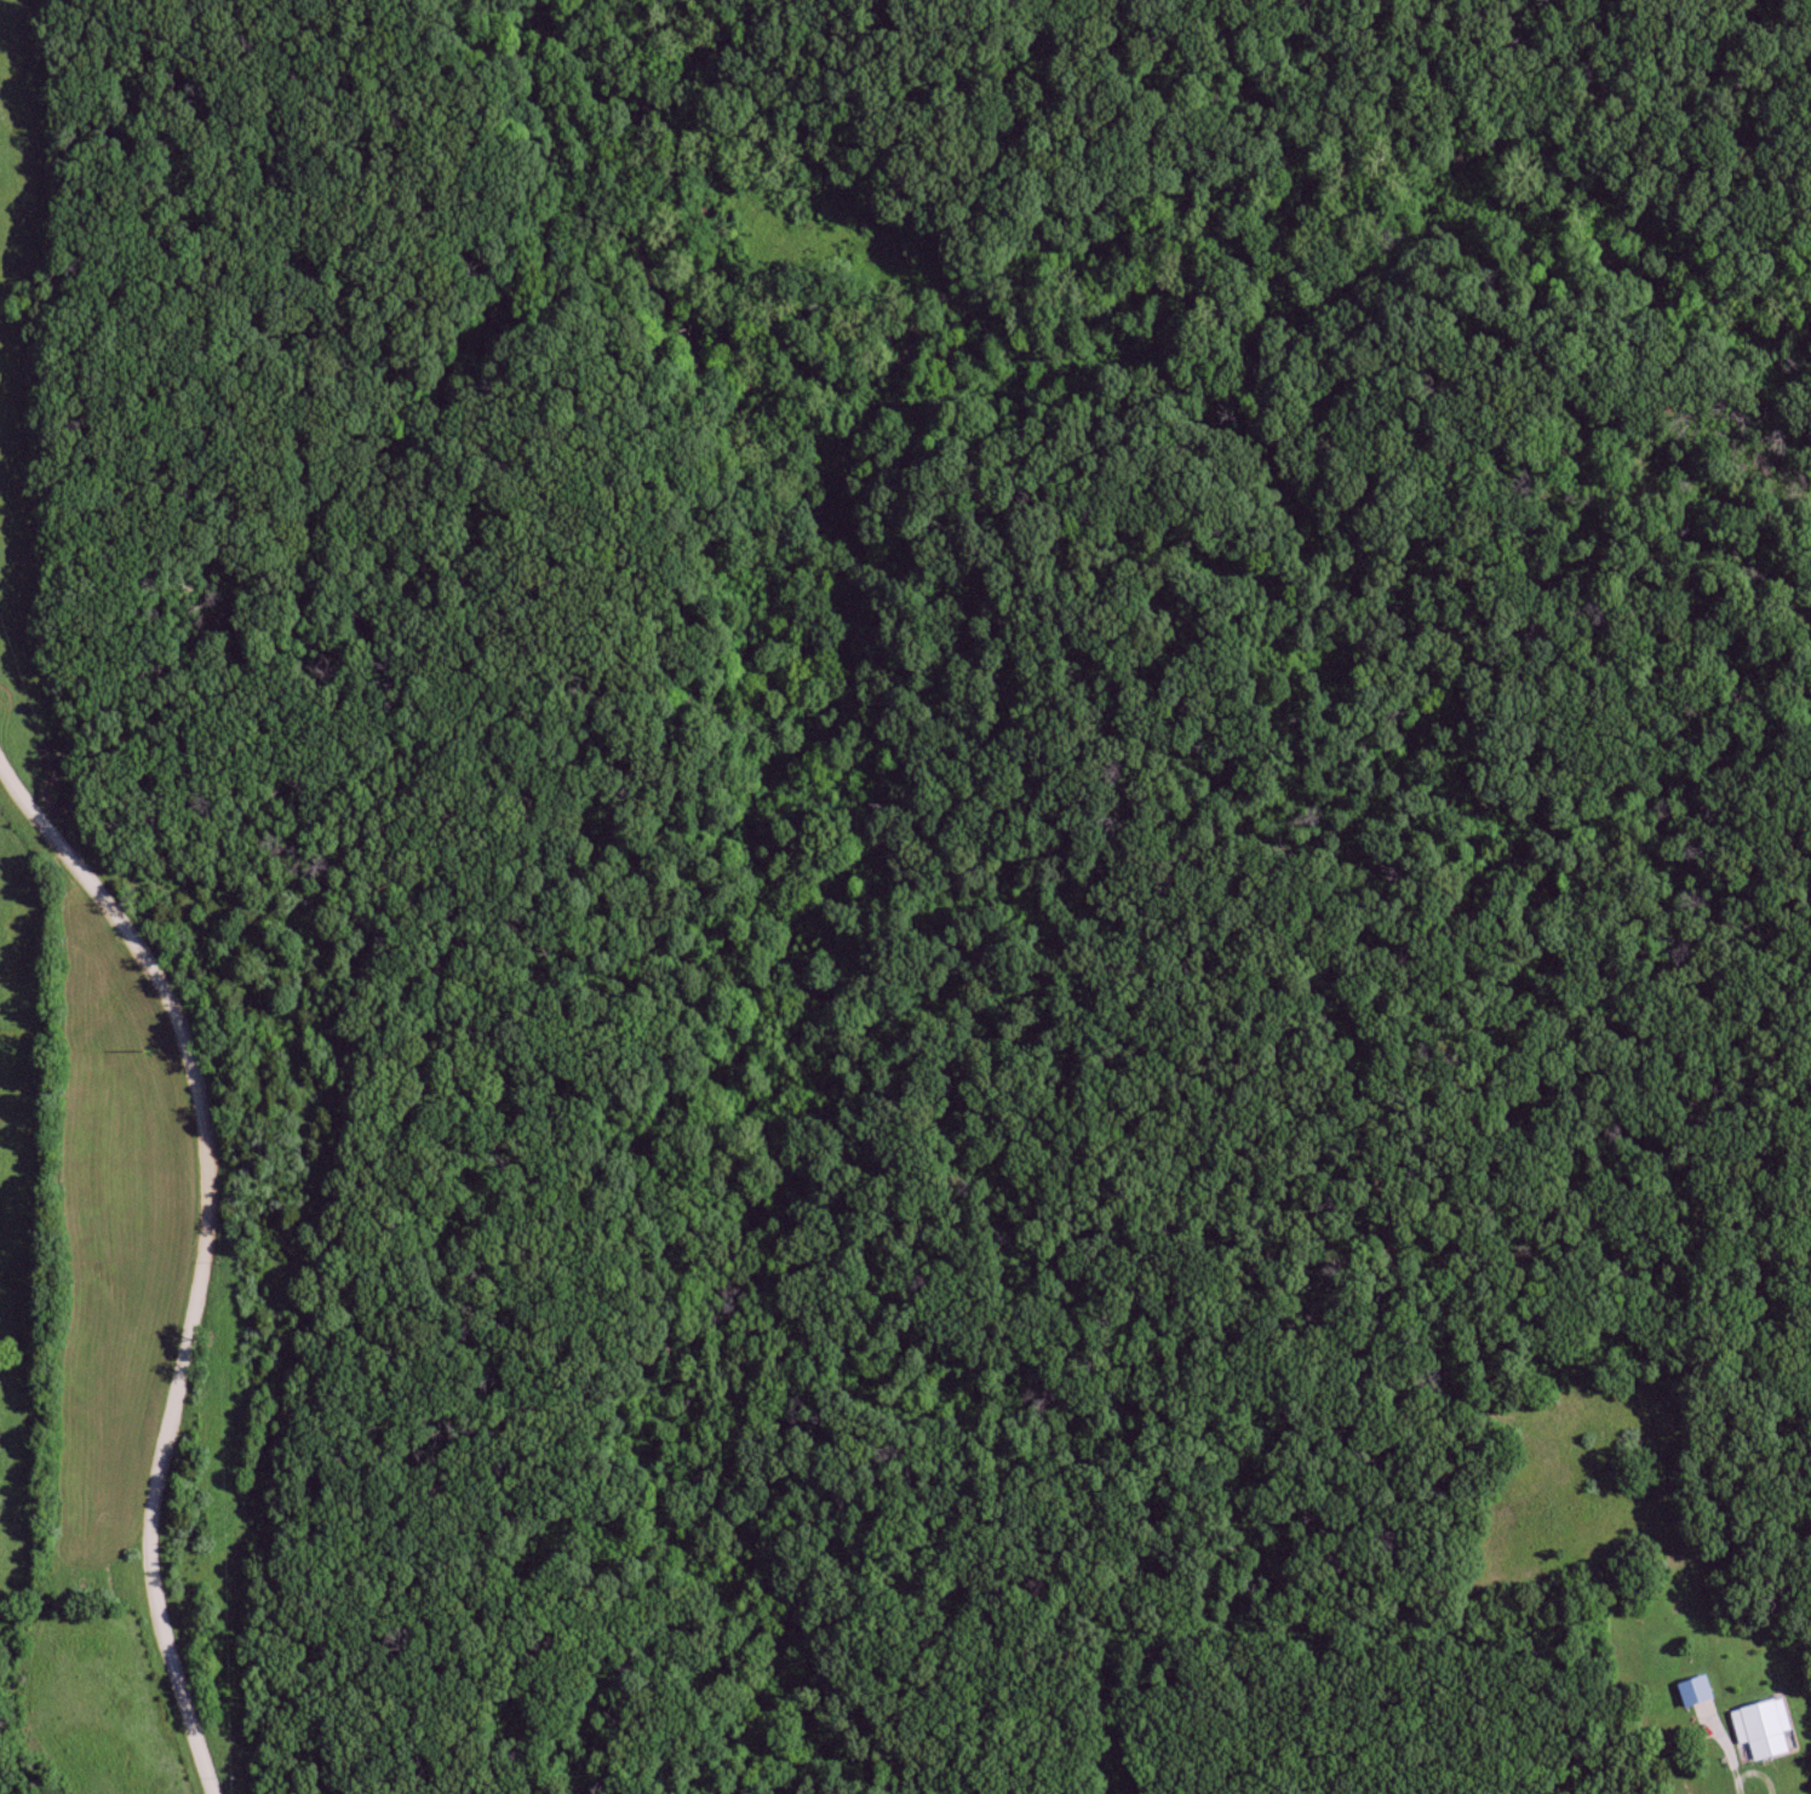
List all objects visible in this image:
road: (199, 1259)
building: (1696, 1691)
building: (1765, 1729)

